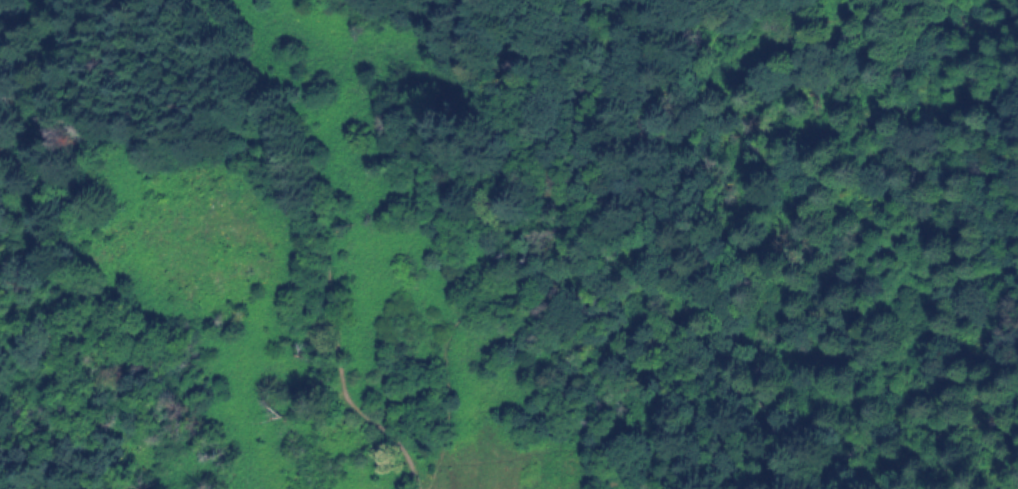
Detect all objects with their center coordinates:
road: (538, 62)
road: (79, 74)
road: (858, 119)
road: (934, 160)
road: (979, 193)
road: (321, 246)
road: (521, 246)

